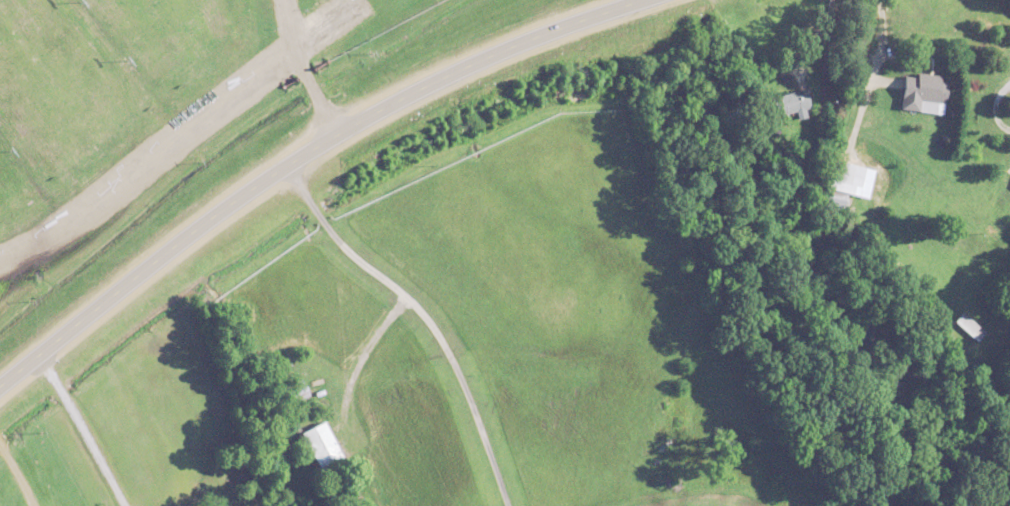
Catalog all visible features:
road: (816, 41)
road: (297, 72)
road: (866, 76)
building: (925, 91)
building: (792, 101)
road: (988, 105)
park: (152, 106)
road: (299, 154)
building: (848, 173)
building: (838, 197)
road: (419, 315)
building: (971, 325)
road: (373, 330)
road: (77, 430)
building: (324, 445)
road: (14, 479)

